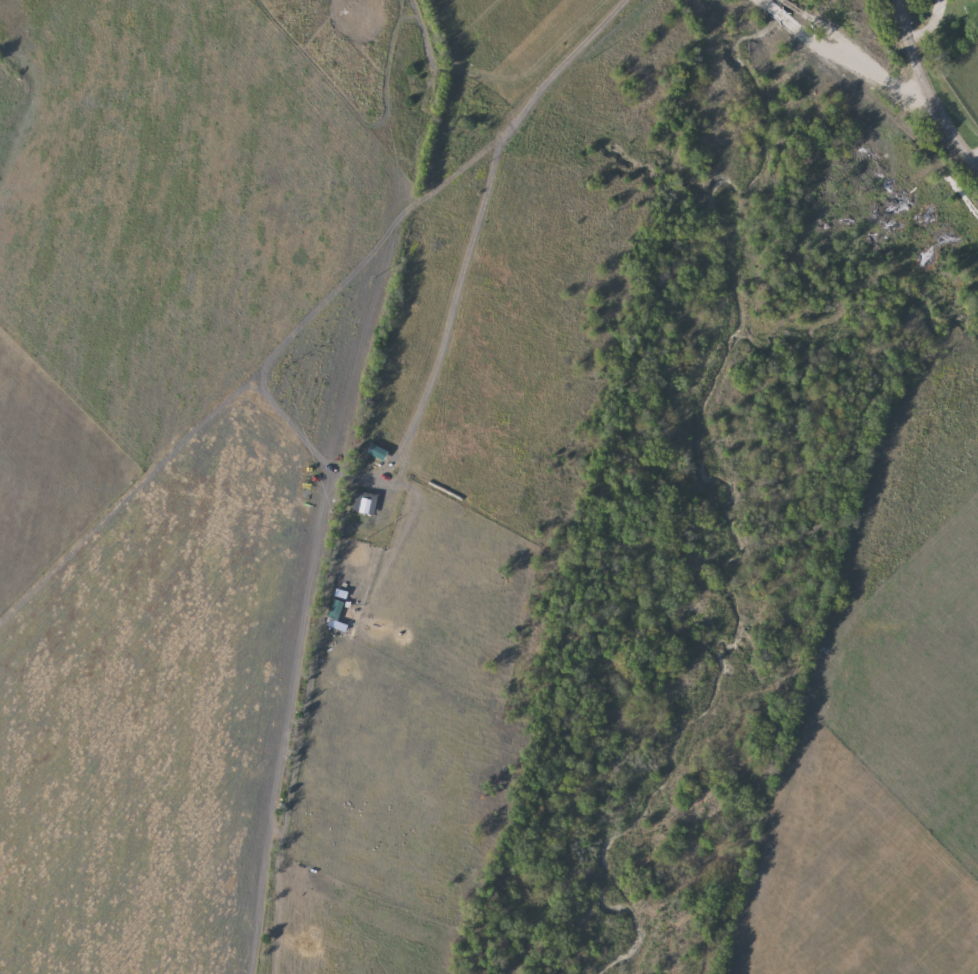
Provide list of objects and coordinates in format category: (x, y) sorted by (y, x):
road: (858, 51)
road: (930, 83)
road: (966, 123)
road: (478, 223)

